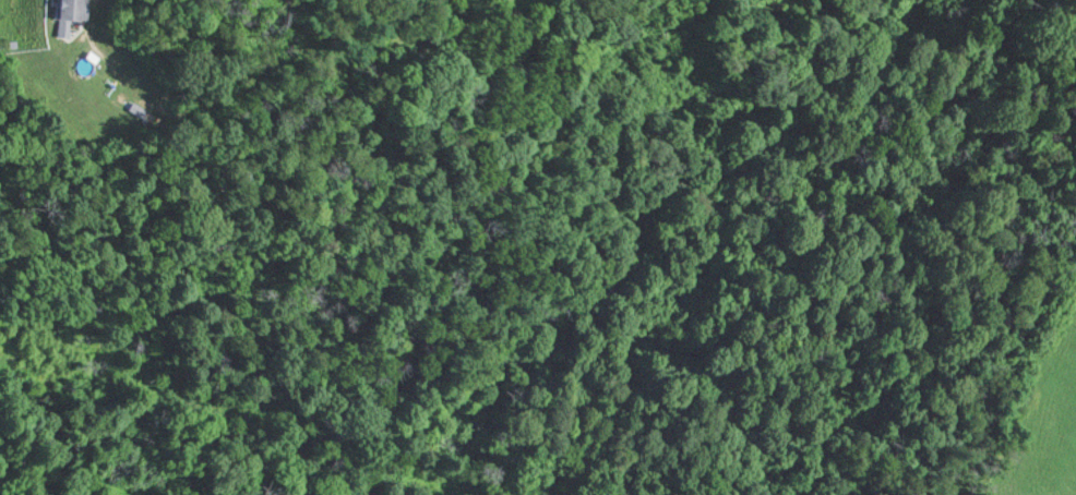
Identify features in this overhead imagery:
building: (62, 10)

